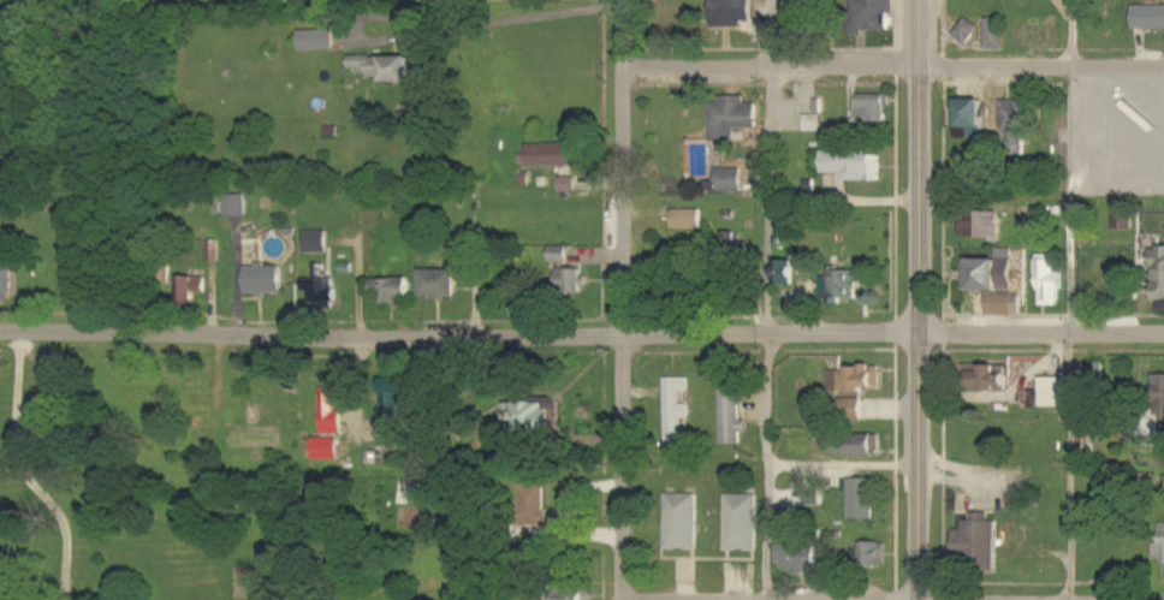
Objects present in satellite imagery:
building: (732, 11)
building: (874, 16)
building: (1150, 18)
road: (492, 25)
building: (968, 32)
building: (996, 34)
road: (767, 37)
building: (316, 41)
building: (386, 69)
road: (1037, 72)
road: (770, 75)
building: (874, 108)
building: (731, 119)
building: (973, 121)
building: (813, 124)
building: (1016, 125)
building: (553, 155)
building: (855, 166)
building: (728, 182)
building: (569, 185)
building: (236, 207)
building: (688, 220)
building: (981, 225)
building: (316, 243)
building: (559, 255)
building: (991, 274)
building: (1160, 278)
building: (6, 281)
building: (265, 281)
building: (570, 281)
building: (1050, 283)
building: (438, 284)
building: (841, 286)
building: (191, 289)
building: (391, 291)
building: (321, 295)
road: (626, 299)
road: (911, 299)
road: (1069, 299)
building: (1002, 305)
road: (456, 333)
road: (772, 334)
road: (1038, 334)
building: (1095, 376)
building: (866, 379)
building: (988, 379)
building: (838, 381)
building: (1047, 396)
building: (1160, 398)
building: (676, 409)
building: (853, 410)
building: (333, 411)
building: (734, 415)
building: (531, 418)
building: (1086, 442)
building: (866, 446)
building: (327, 450)
road: (23, 469)
building: (812, 498)
building: (862, 499)
building: (535, 507)
building: (682, 523)
building: (742, 524)
building: (979, 540)
building: (1160, 551)
building: (874, 556)
building: (800, 560)
building: (575, 596)
road: (768, 598)
road: (990, 599)

